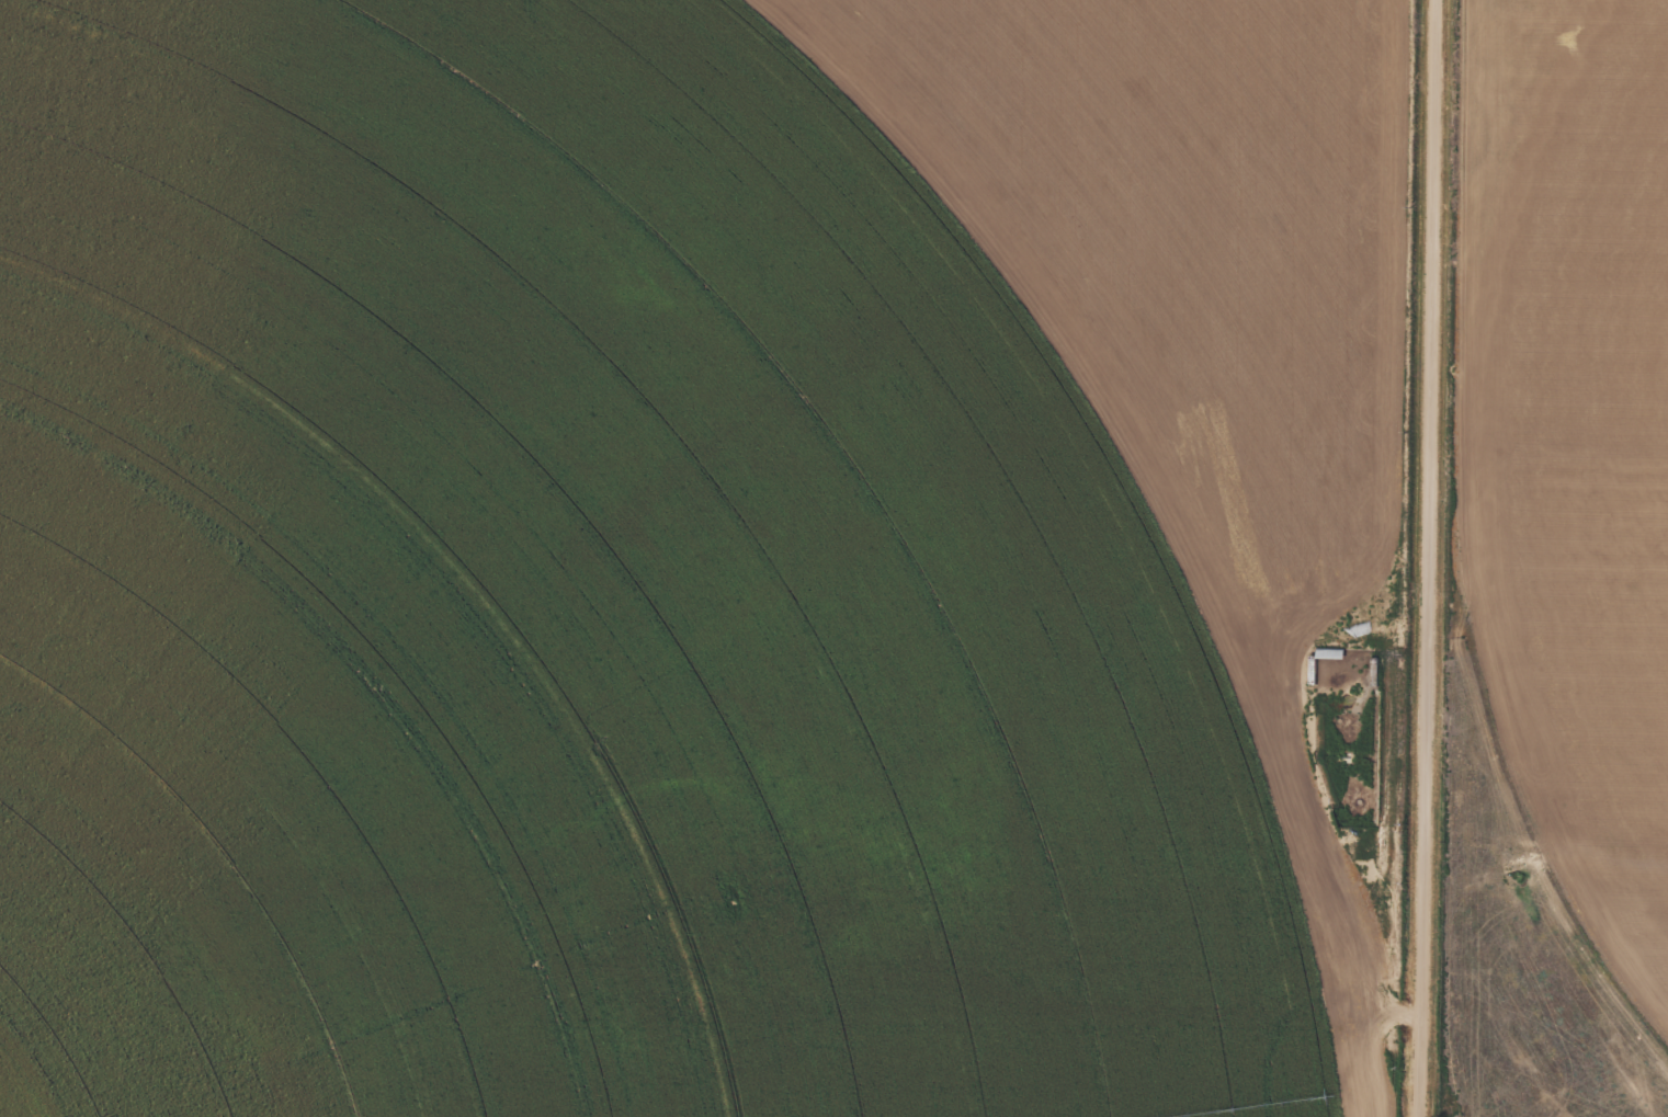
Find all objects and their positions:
road: (1427, 558)
crop: (1579, 572)

